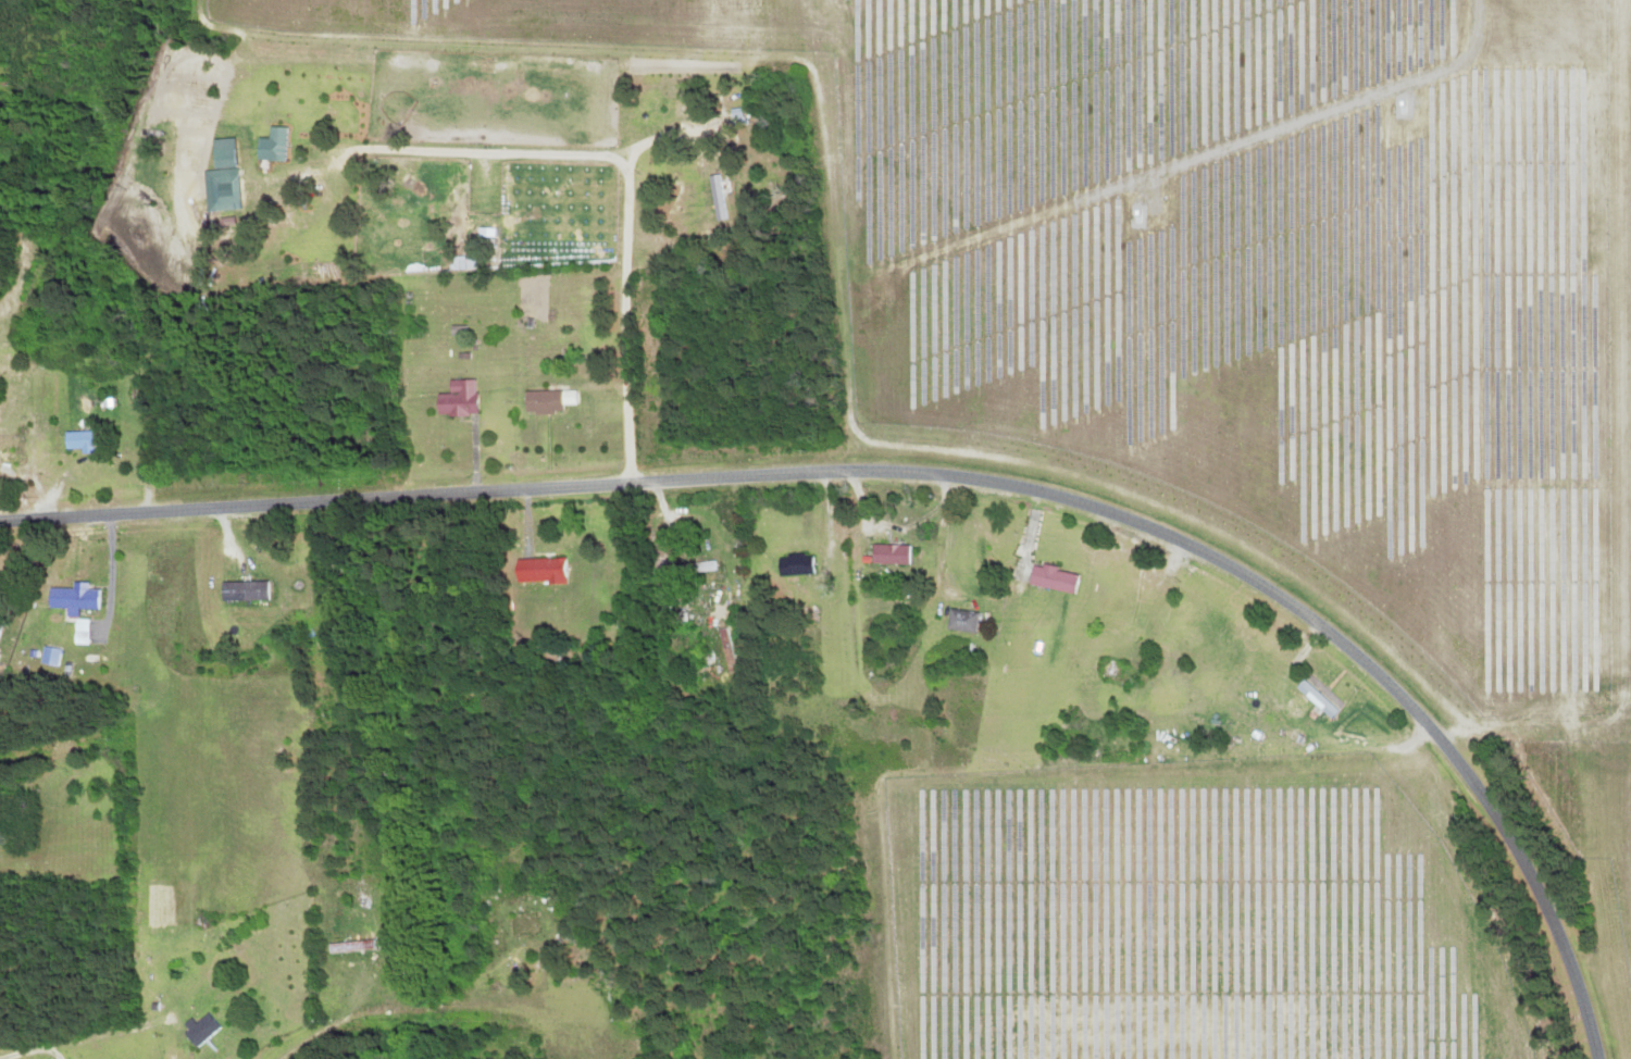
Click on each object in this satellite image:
building: (271, 142)
building: (224, 188)
building: (715, 197)
building: (477, 237)
building: (32, 284)
building: (455, 398)
building: (540, 401)
building: (73, 439)
road: (939, 474)
building: (888, 553)
building: (792, 564)
building: (537, 570)
building: (1050, 577)
road: (858, 580)
building: (242, 590)
building: (72, 597)
building: (960, 621)
building: (1209, 622)
building: (78, 632)
building: (1318, 696)
building: (1291, 736)
building: (18, 820)
building: (521, 925)
building: (348, 947)
road: (401, 1008)

